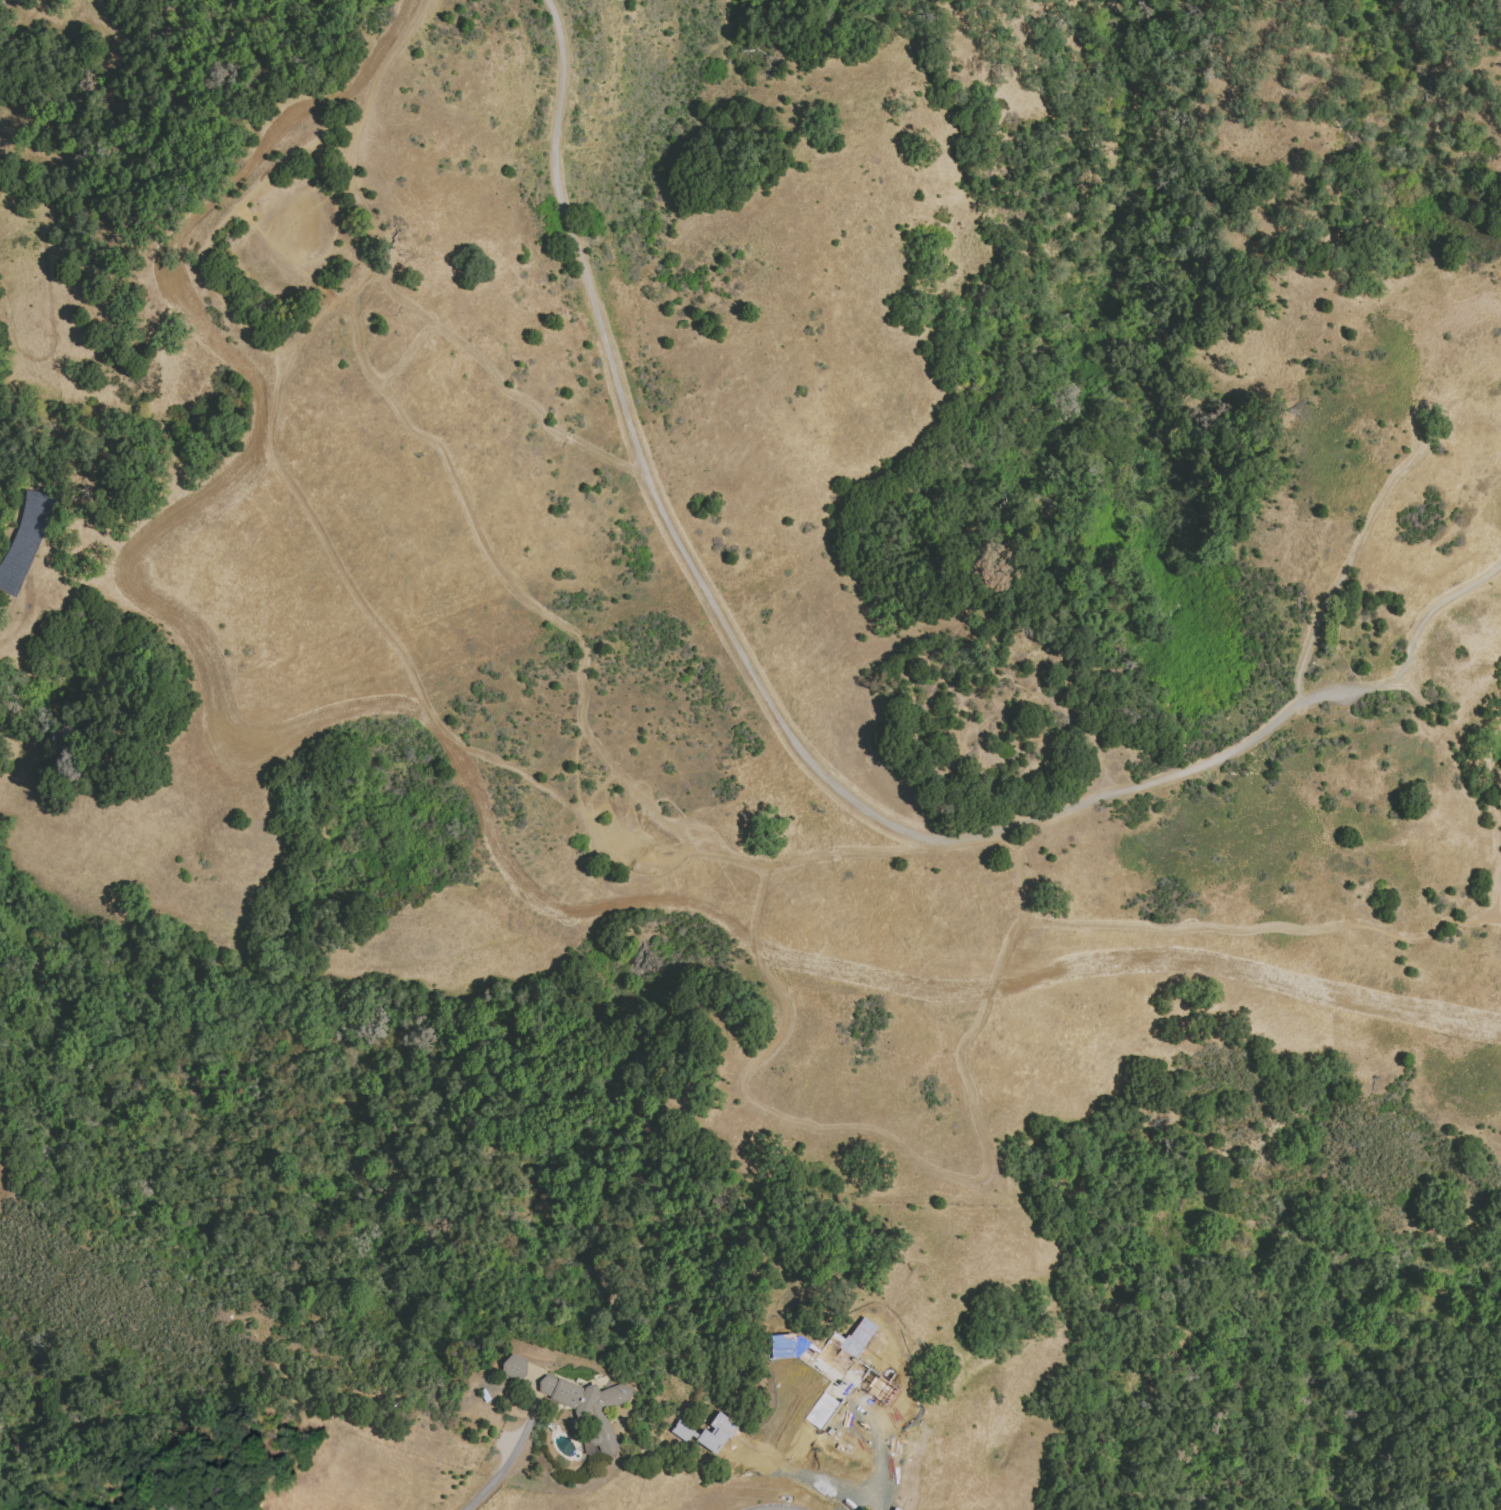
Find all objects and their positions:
road: (322, 151)
road: (334, 159)
road: (295, 195)
road: (337, 232)
road: (333, 248)
road: (207, 249)
road: (288, 257)
road: (507, 387)
road: (1383, 493)
road: (483, 540)
road: (1444, 606)
road: (372, 609)
road: (1347, 632)
road: (1333, 661)
road: (1405, 688)
road: (770, 695)
road: (1479, 785)
road: (642, 833)
road: (660, 861)
road: (1217, 928)
road: (793, 1122)
building: (824, 1355)
building: (514, 1367)
building: (590, 1406)
building: (821, 1410)
building: (707, 1432)
road: (891, 1455)
road: (506, 1464)
road: (813, 1479)

